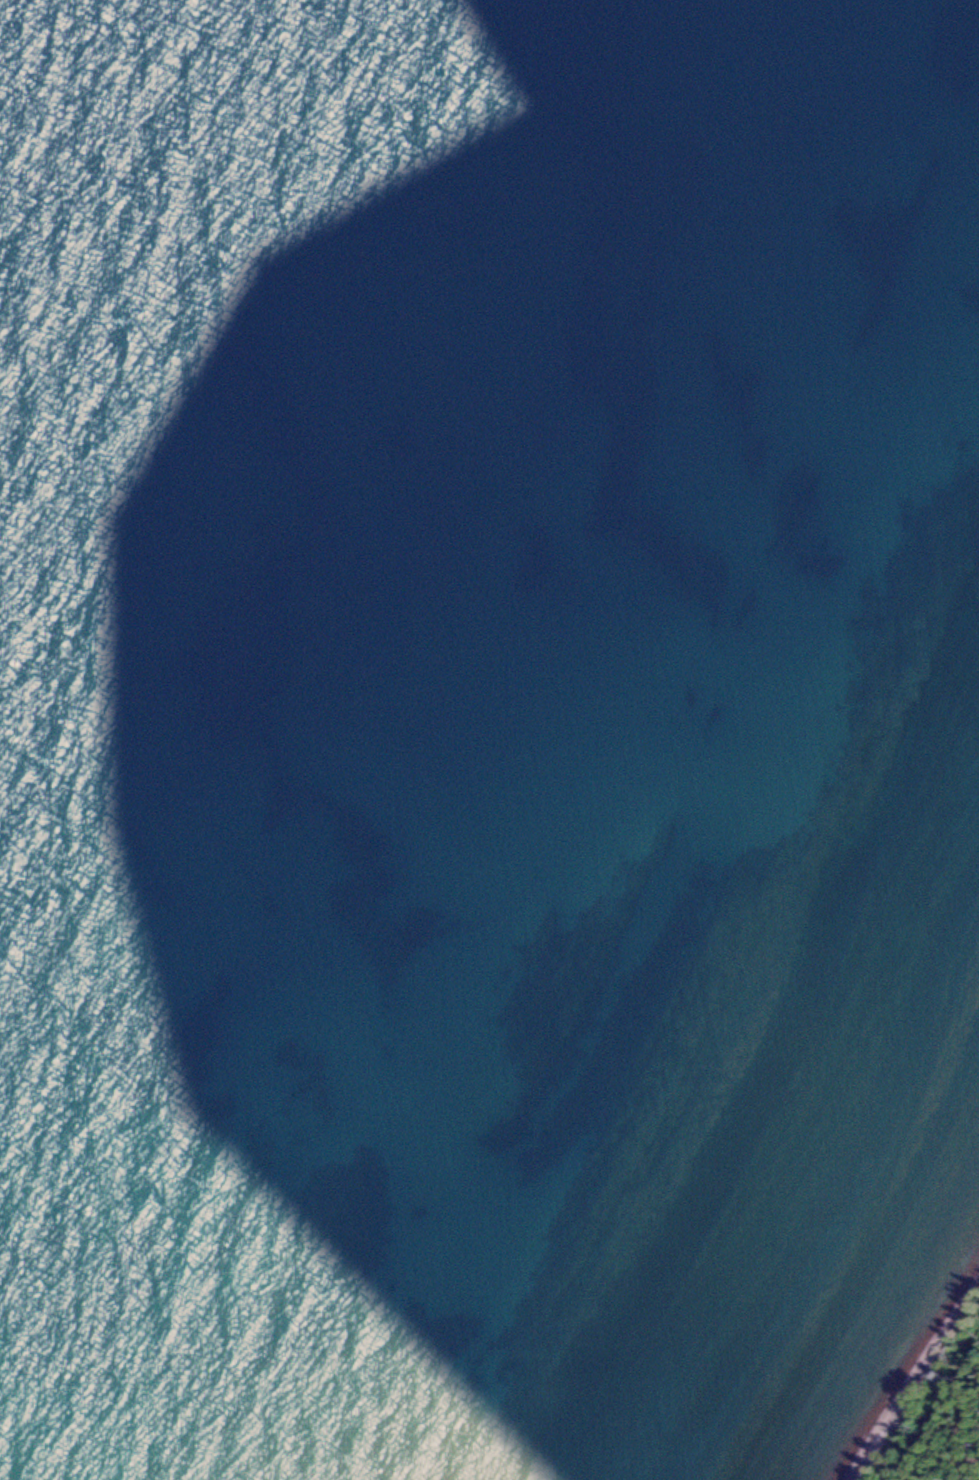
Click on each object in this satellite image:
park: (923, 1389)

